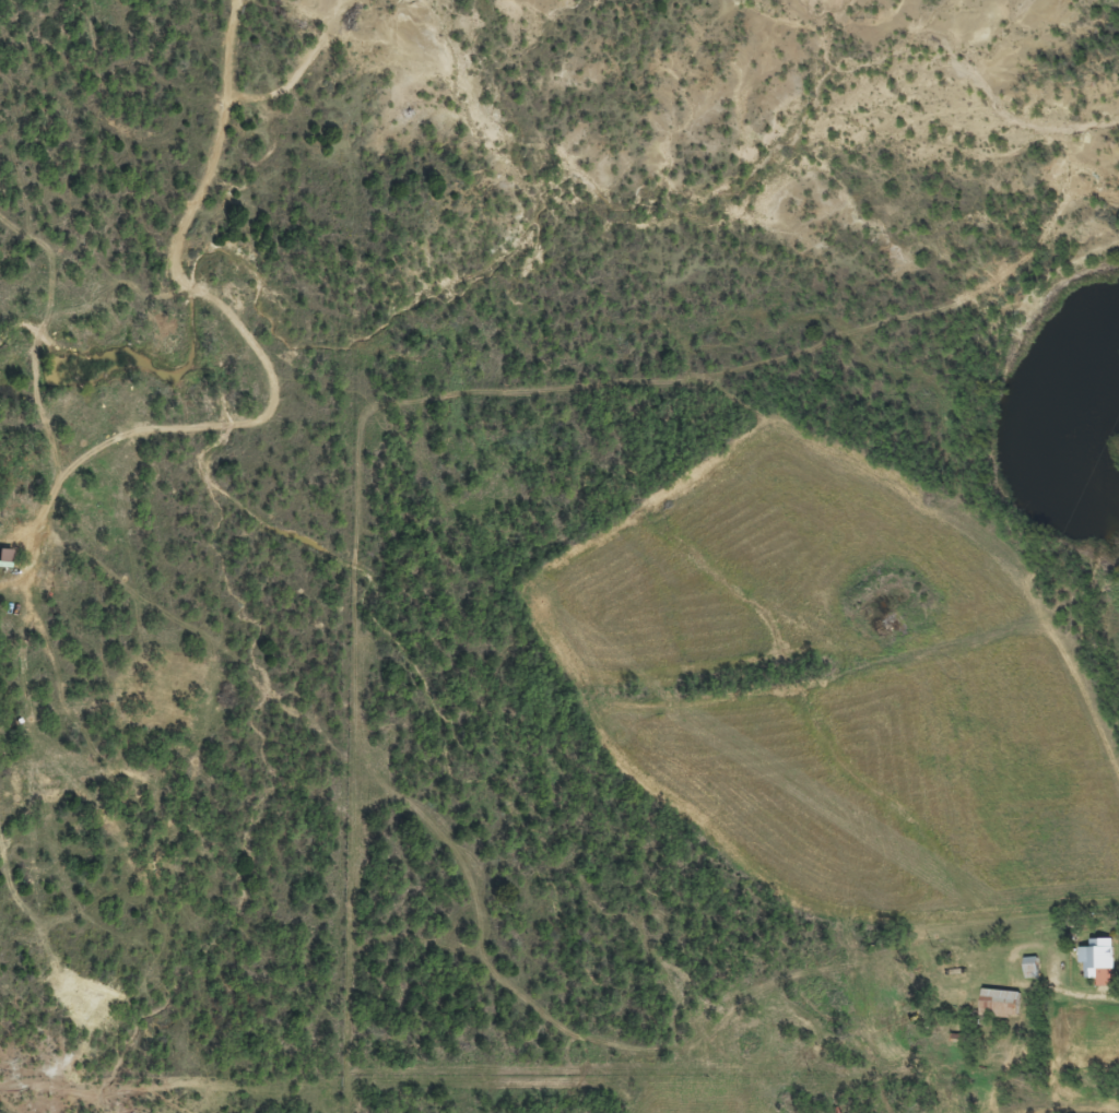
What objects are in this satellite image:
building: (2, 565)
building: (1094, 969)
building: (996, 1011)

